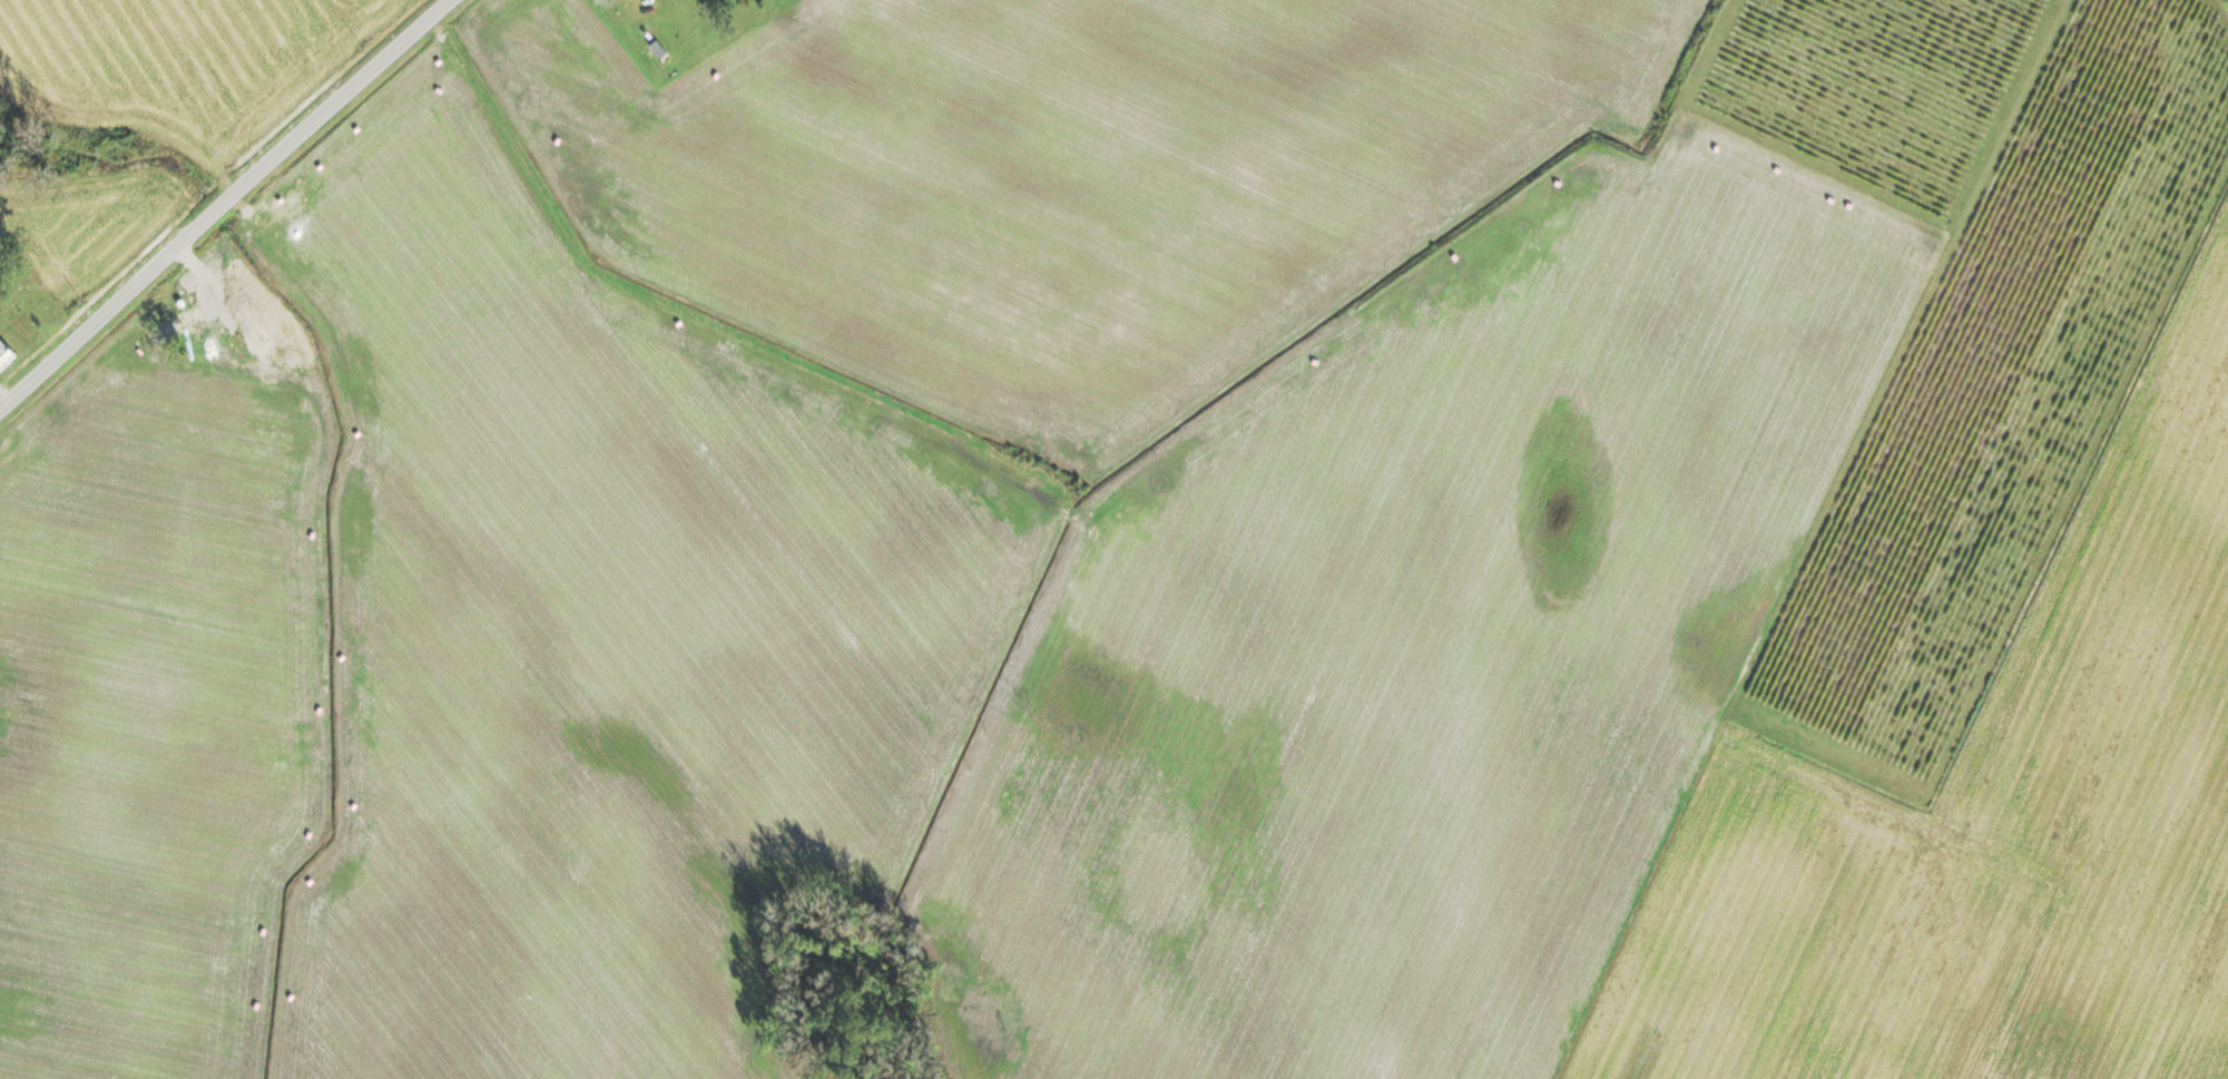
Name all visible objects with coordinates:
road: (224, 203)
building: (265, 315)
building: (6, 353)
road: (4, 392)

